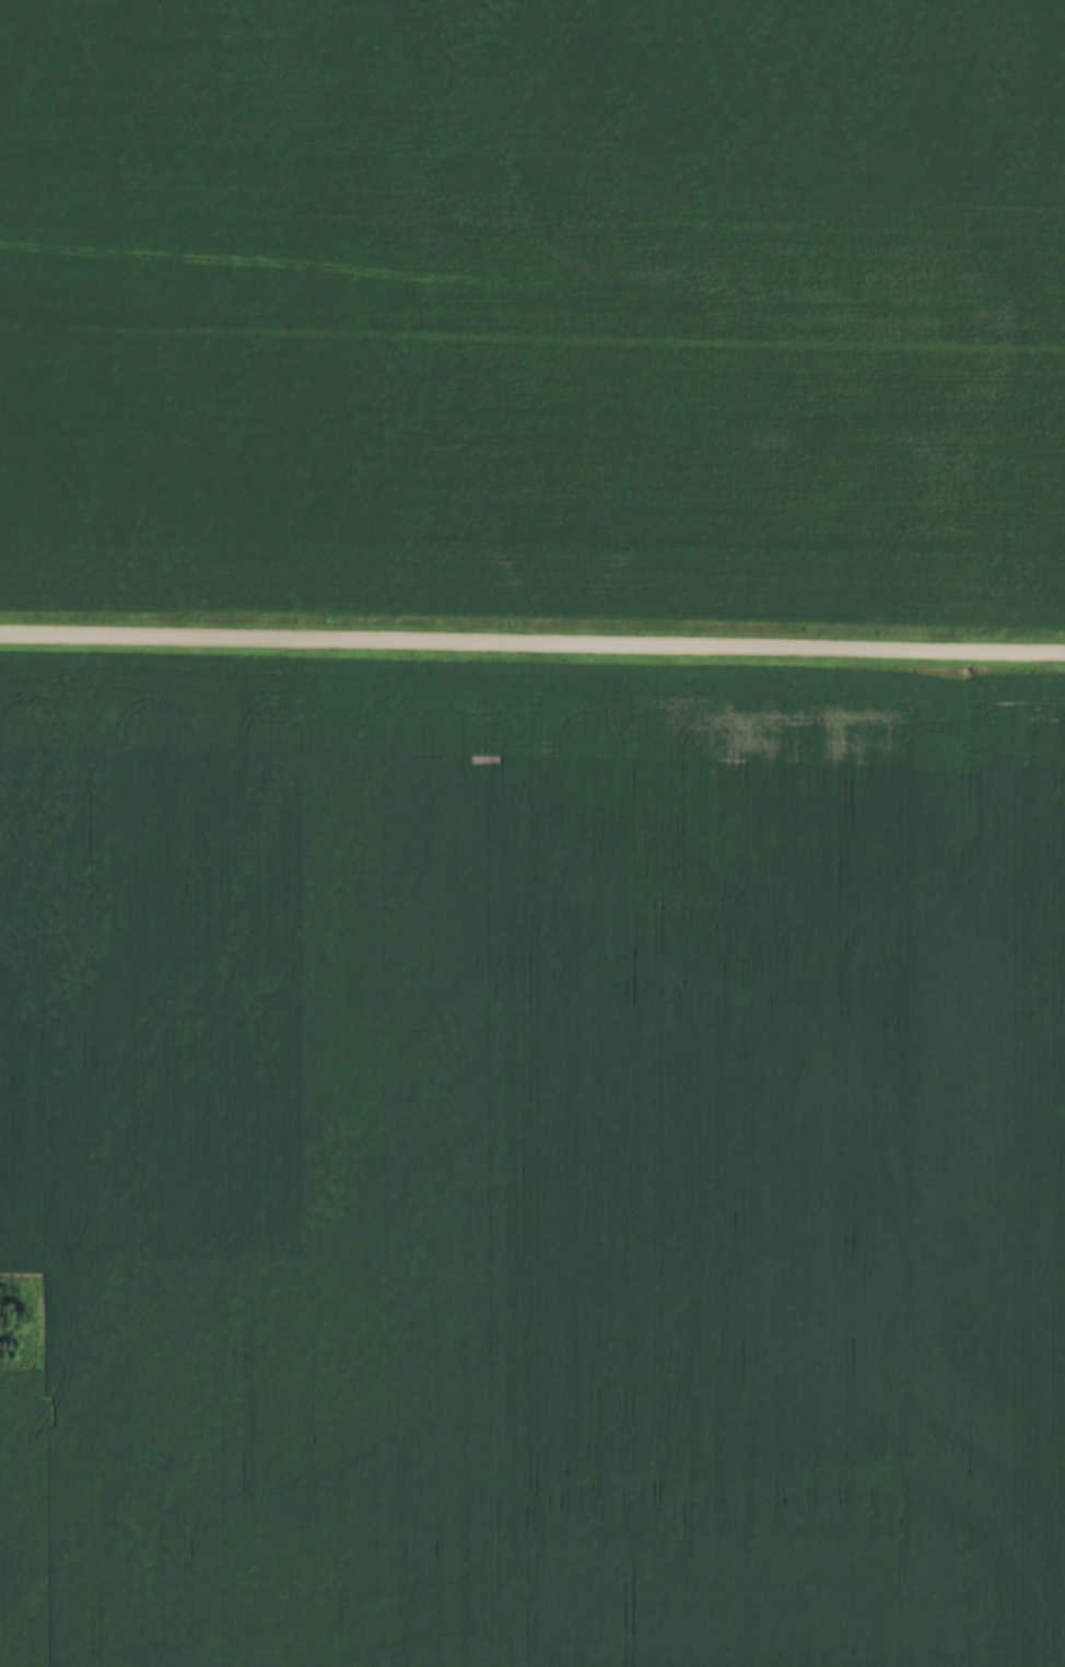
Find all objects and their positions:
road: (532, 643)

